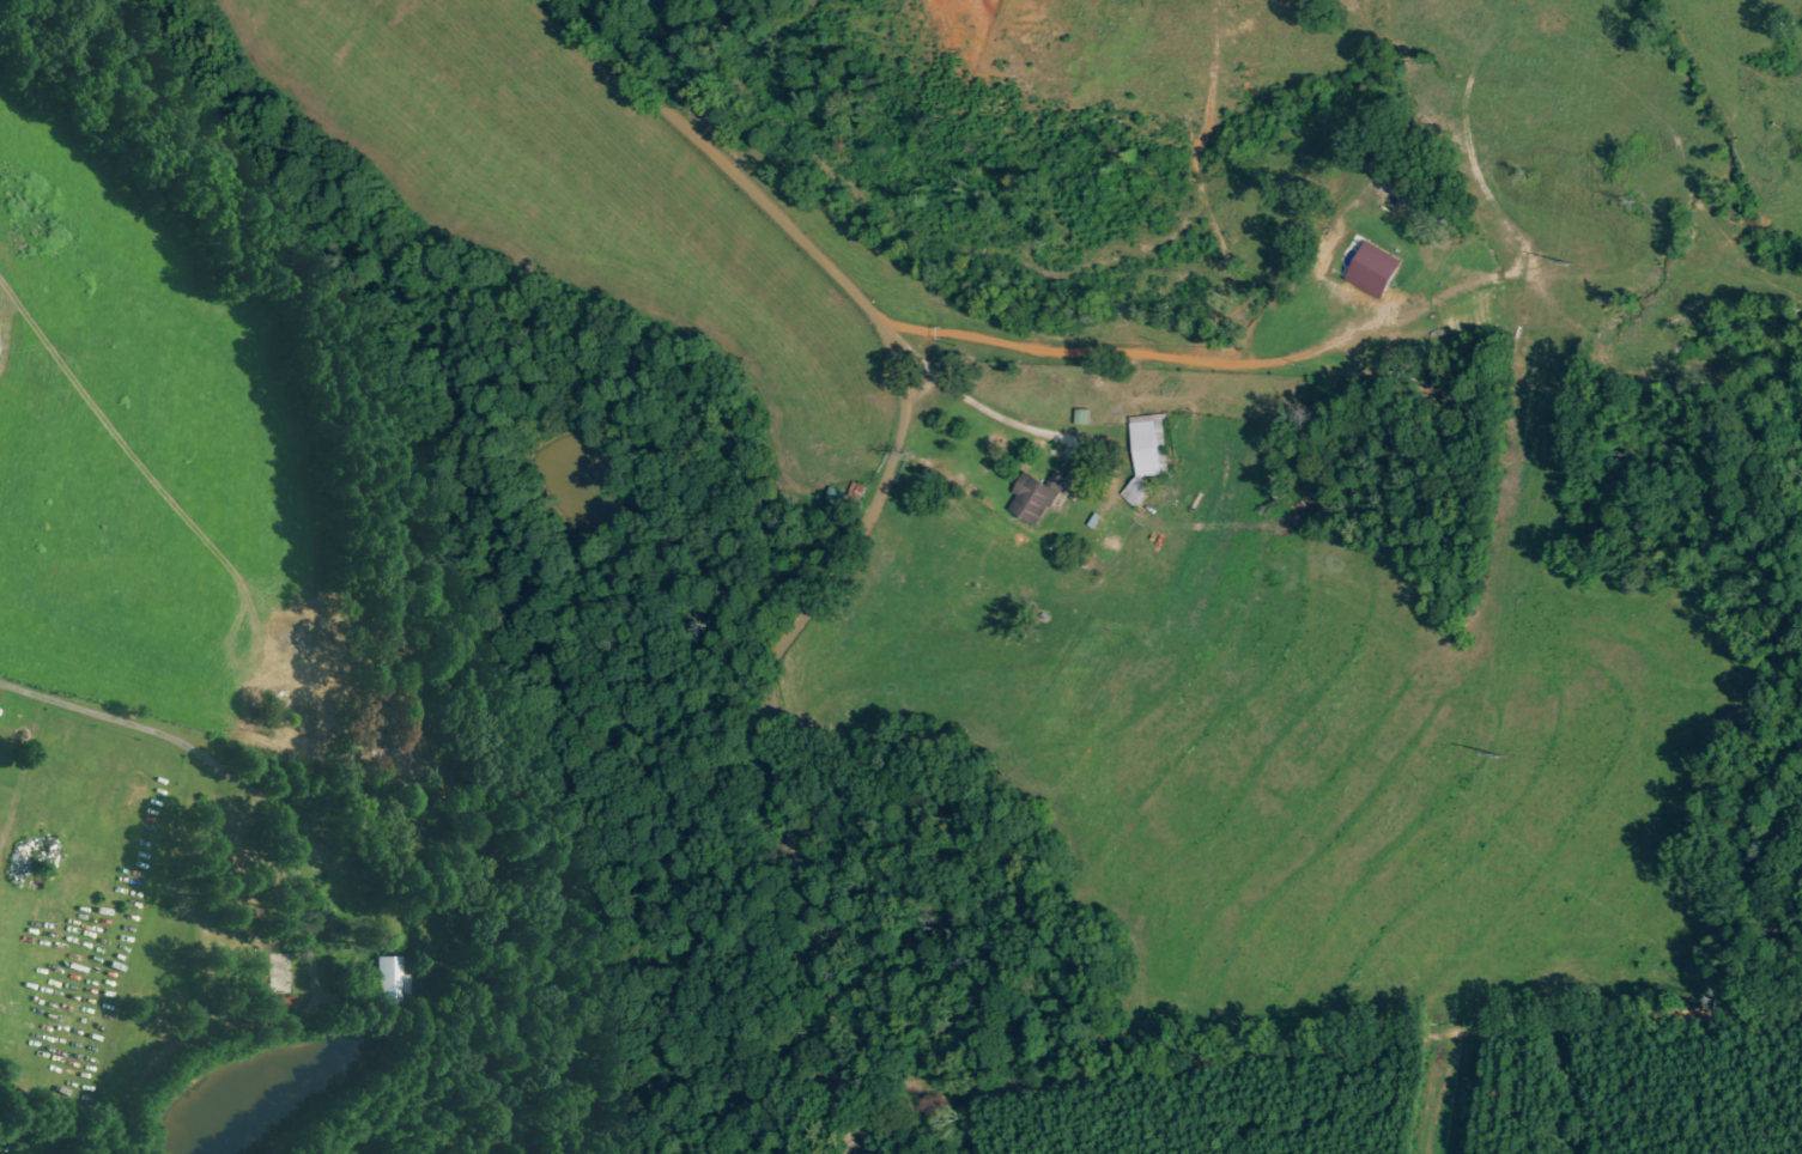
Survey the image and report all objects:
building: (1378, 271)
building: (0, 327)
building: (1146, 456)
building: (1050, 490)
road: (875, 532)
road: (243, 892)
building: (393, 980)

